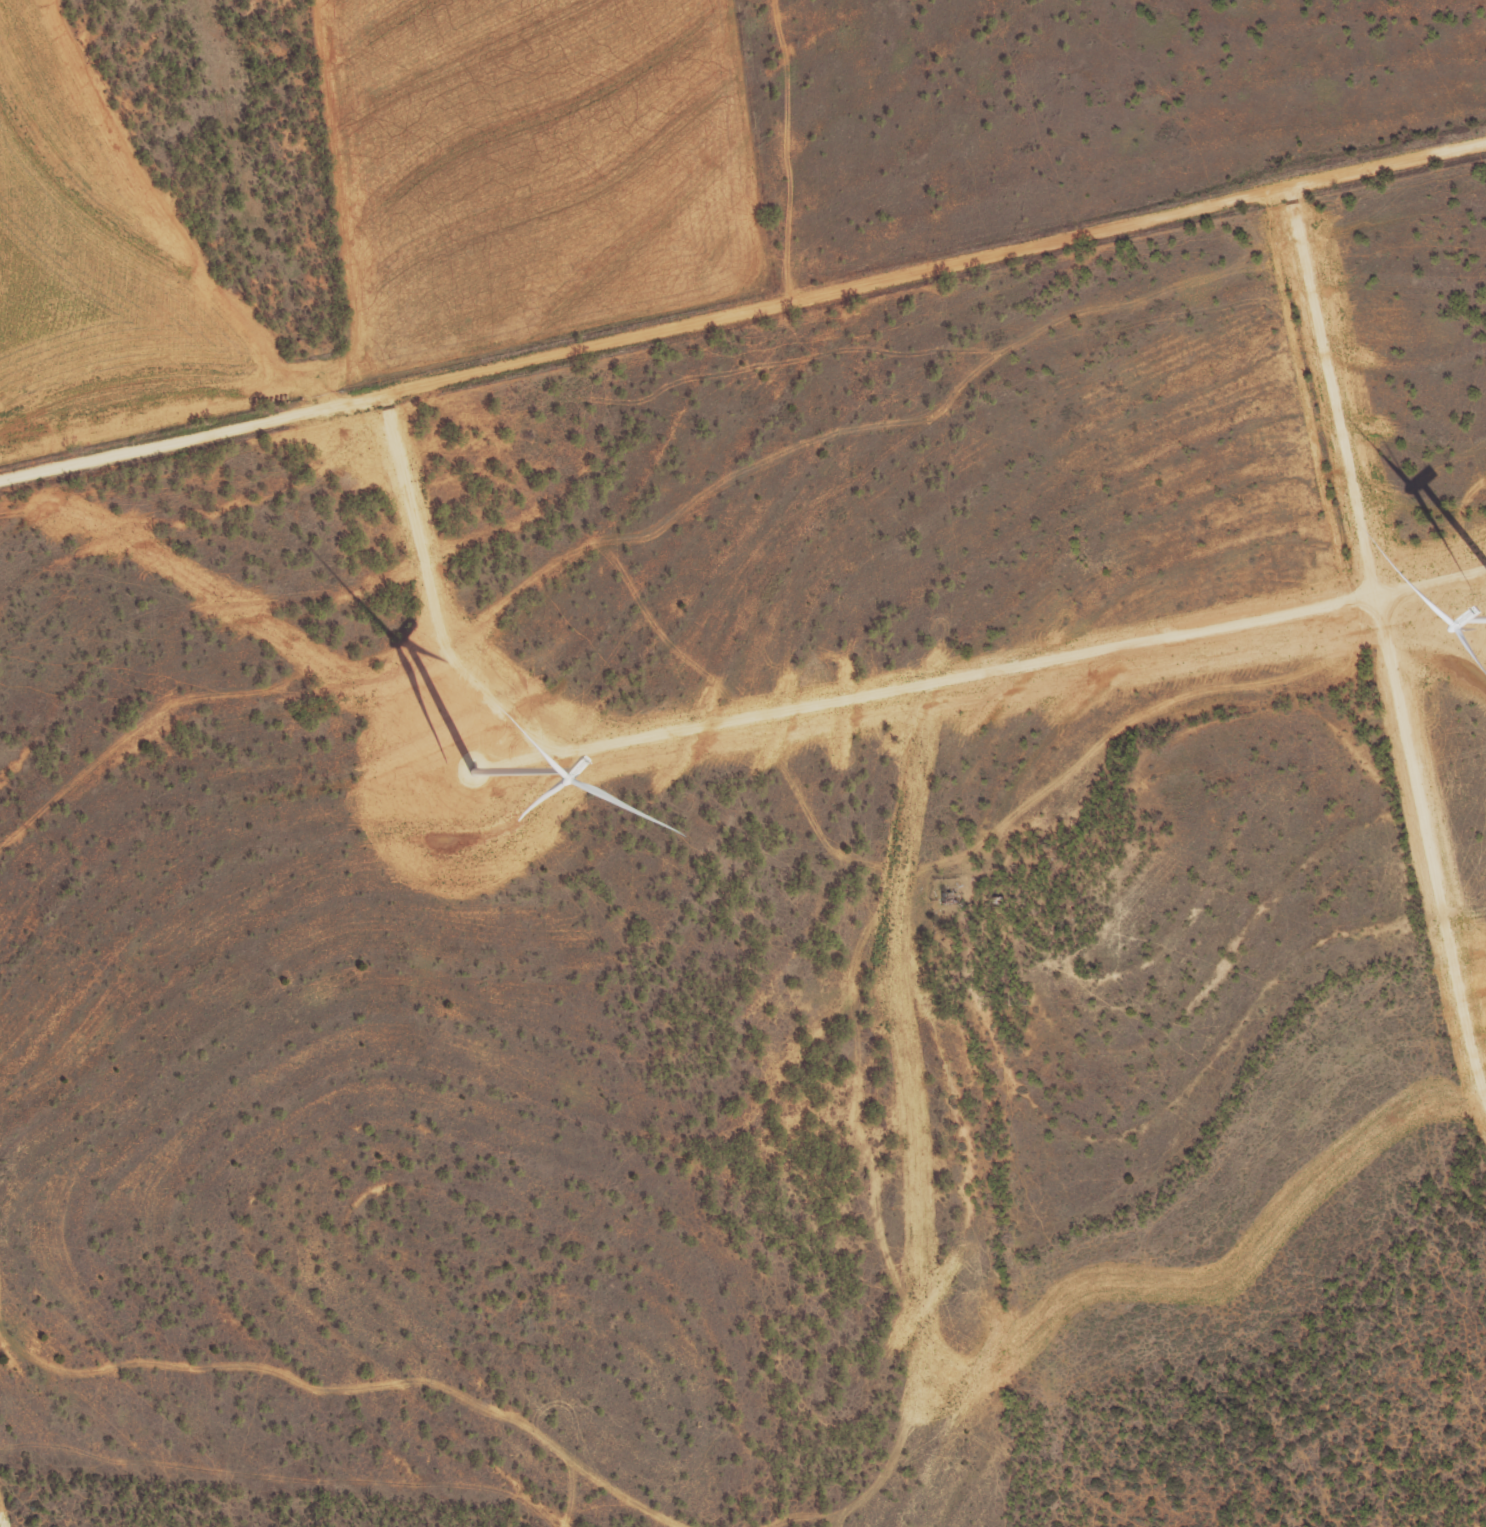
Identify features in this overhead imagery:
road: (173, 211)
road: (743, 314)
road: (1332, 391)
road: (816, 703)
road: (529, 761)
wind turbine: (475, 774)
road: (1427, 840)
road: (951, 860)

